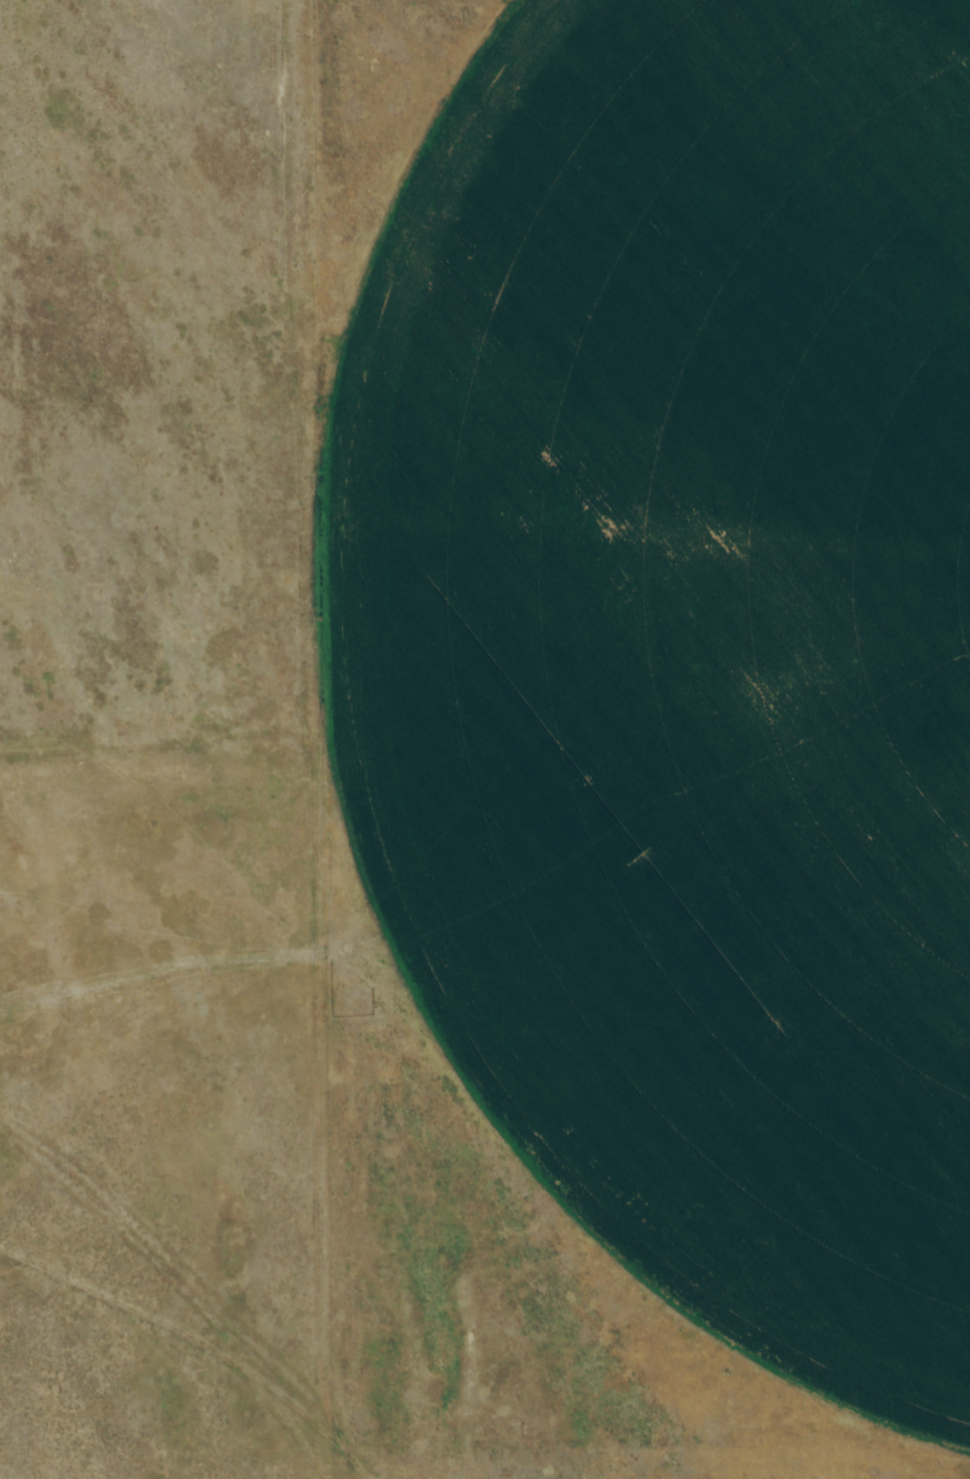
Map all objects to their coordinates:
crop: (688, 650)

